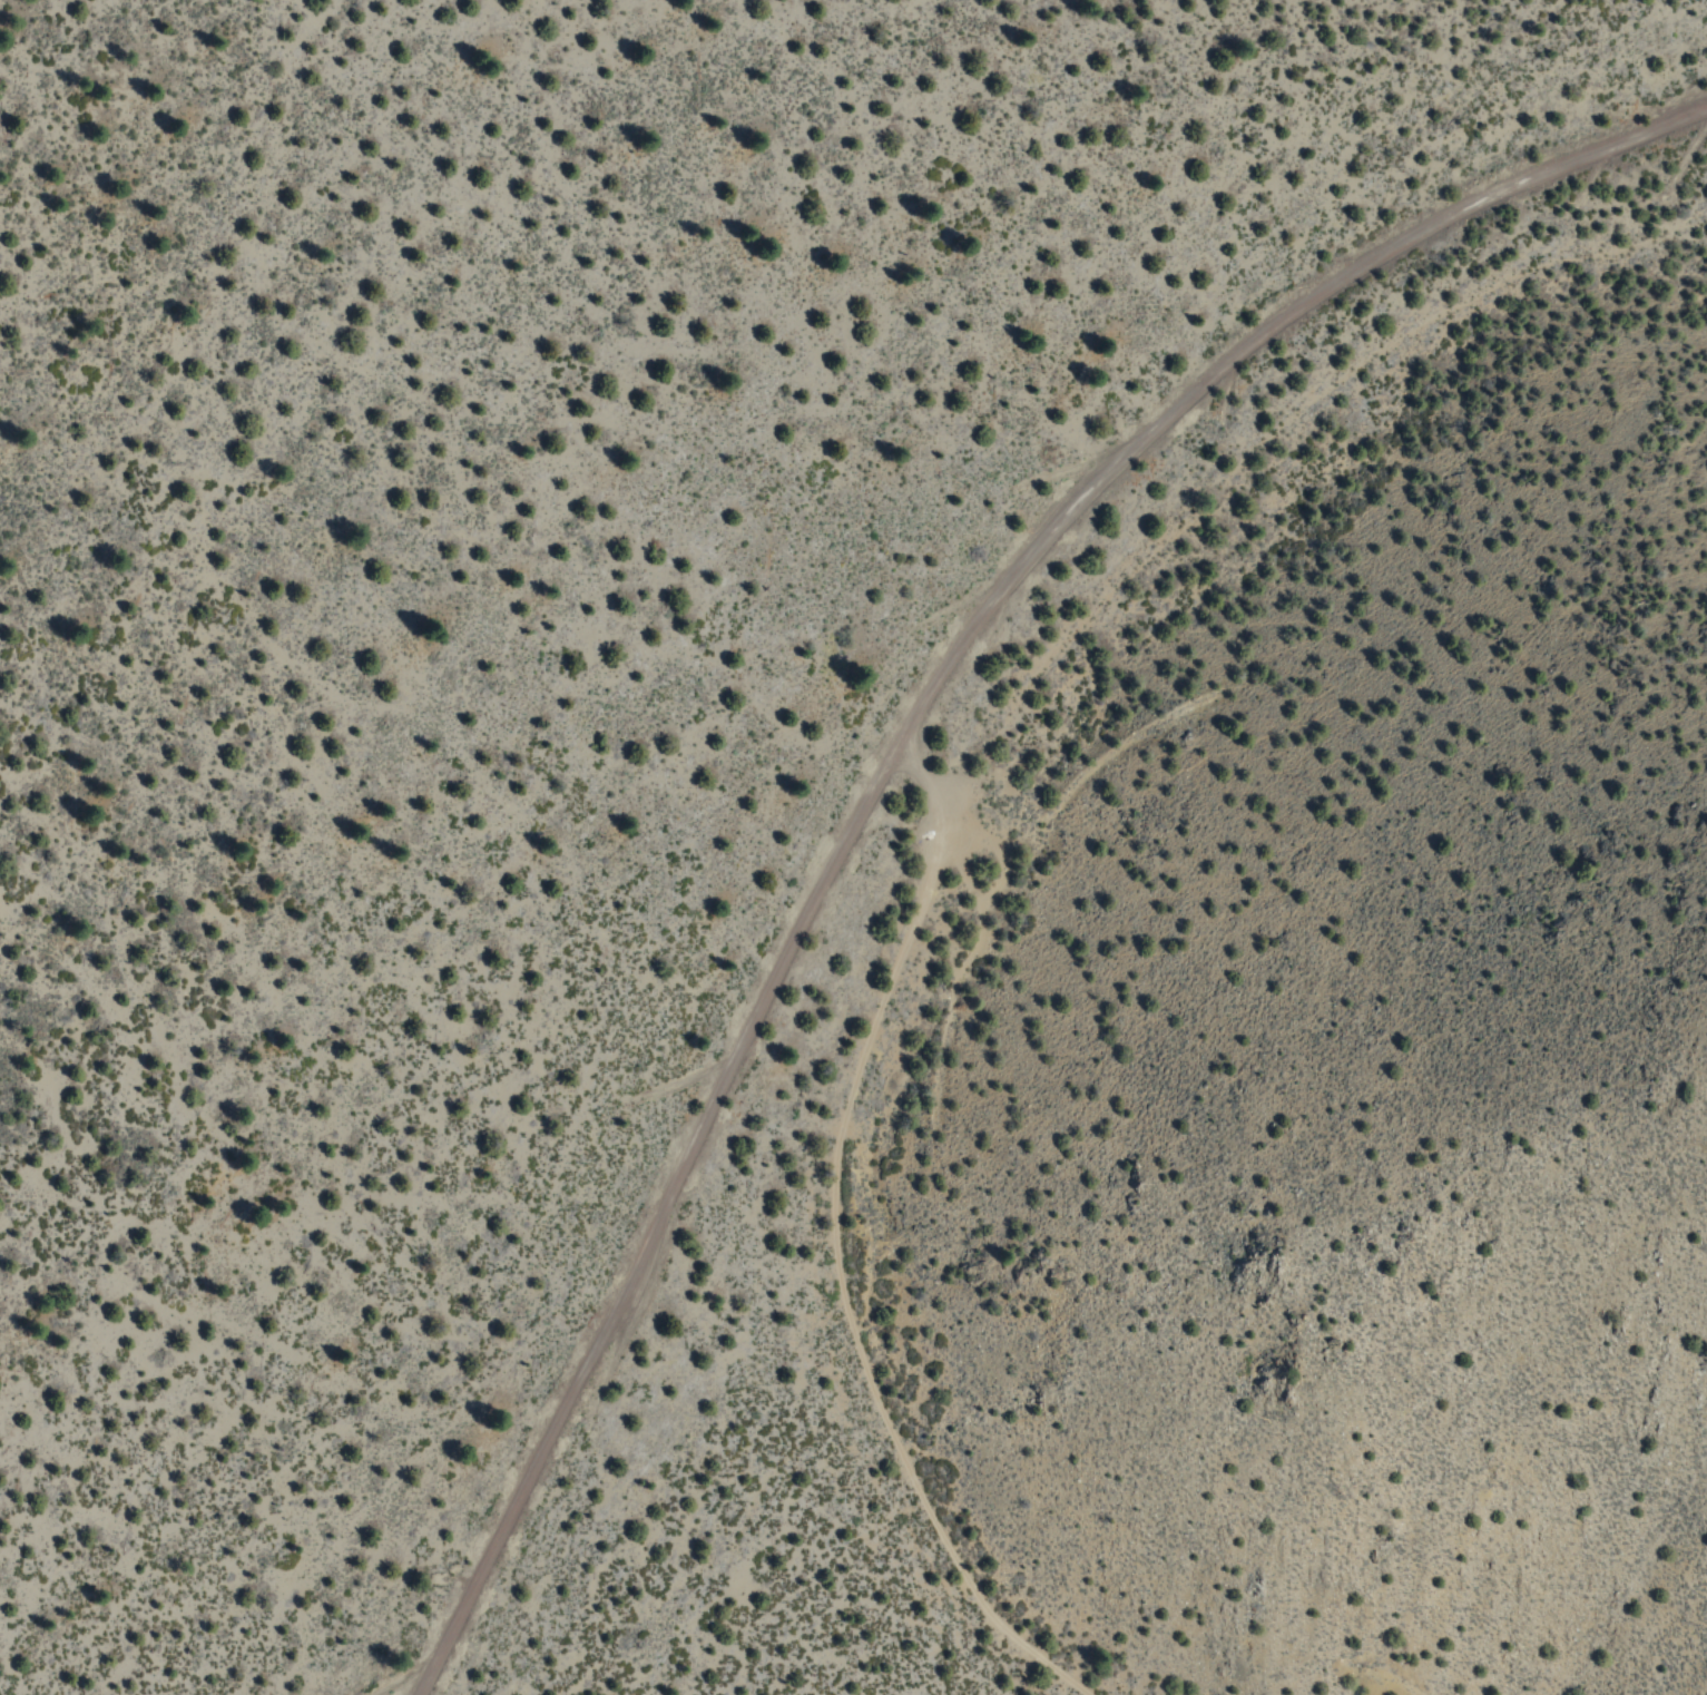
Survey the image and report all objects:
road: (891, 746)
road: (920, 773)
road: (951, 806)

